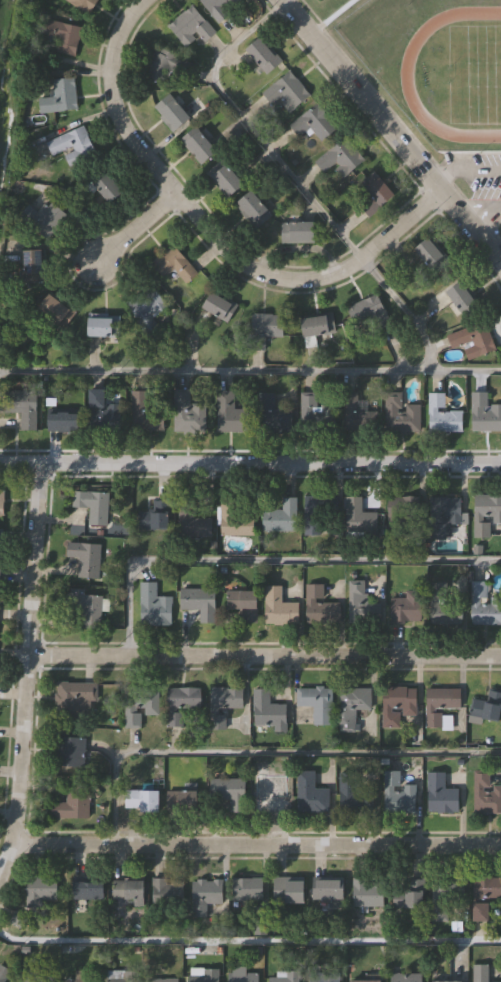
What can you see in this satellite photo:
building: (83, 4)
building: (218, 8)
road: (330, 17)
building: (190, 26)
building: (64, 37)
building: (262, 54)
building: (160, 66)
track: (459, 74)
park: (474, 75)
building: (287, 91)
building: (59, 96)
building: (170, 111)
building: (313, 122)
road: (389, 130)
building: (71, 145)
building: (198, 145)
building: (340, 158)
road: (465, 167)
building: (227, 179)
road: (294, 181)
building: (108, 188)
building: (371, 194)
building: (250, 207)
road: (485, 217)
building: (48, 219)
road: (136, 230)
building: (297, 231)
road: (207, 234)
building: (429, 256)
building: (172, 263)
building: (33, 265)
building: (462, 299)
building: (218, 306)
building: (146, 308)
building: (55, 309)
building: (368, 312)
building: (317, 324)
building: (102, 326)
building: (261, 328)
building: (471, 340)
road: (250, 372)
building: (24, 410)
building: (101, 411)
building: (186, 411)
building: (143, 413)
building: (229, 413)
building: (315, 413)
building: (484, 413)
building: (357, 414)
building: (273, 415)
building: (442, 415)
building: (1, 418)
building: (402, 419)
building: (62, 421)
road: (250, 464)
building: (1, 502)
building: (92, 505)
building: (485, 513)
building: (318, 514)
building: (399, 514)
building: (442, 514)
building: (154, 516)
building: (280, 516)
building: (234, 517)
building: (358, 519)
building: (191, 521)
building: (0, 543)
building: (85, 558)
road: (269, 561)
building: (358, 602)
building: (445, 602)
building: (198, 603)
building: (242, 604)
building: (483, 605)
building: (153, 606)
building: (320, 606)
building: (278, 608)
building: (405, 608)
building: (90, 611)
road: (264, 656)
road: (25, 670)
building: (227, 697)
building: (73, 698)
building: (316, 702)
building: (179, 703)
building: (138, 704)
building: (397, 704)
building: (487, 705)
building: (439, 706)
building: (354, 707)
building: (267, 710)
building: (216, 721)
building: (70, 751)
road: (265, 753)
building: (268, 790)
building: (398, 791)
building: (229, 792)
building: (484, 793)
building: (311, 794)
building: (353, 794)
building: (440, 794)
building: (141, 800)
building: (181, 801)
building: (73, 803)
road: (255, 843)
building: (486, 886)
building: (40, 889)
building: (88, 889)
building: (128, 889)
building: (246, 889)
building: (167, 890)
building: (328, 890)
building: (288, 891)
building: (367, 892)
building: (410, 893)
building: (444, 893)
building: (205, 894)
building: (480, 911)
road: (249, 941)
building: (479, 973)
building: (40, 974)
building: (202, 975)
building: (121, 976)
building: (242, 976)
building: (81, 977)
building: (282, 977)
building: (323, 977)
building: (162, 980)
building: (365, 981)
building: (446, 981)

